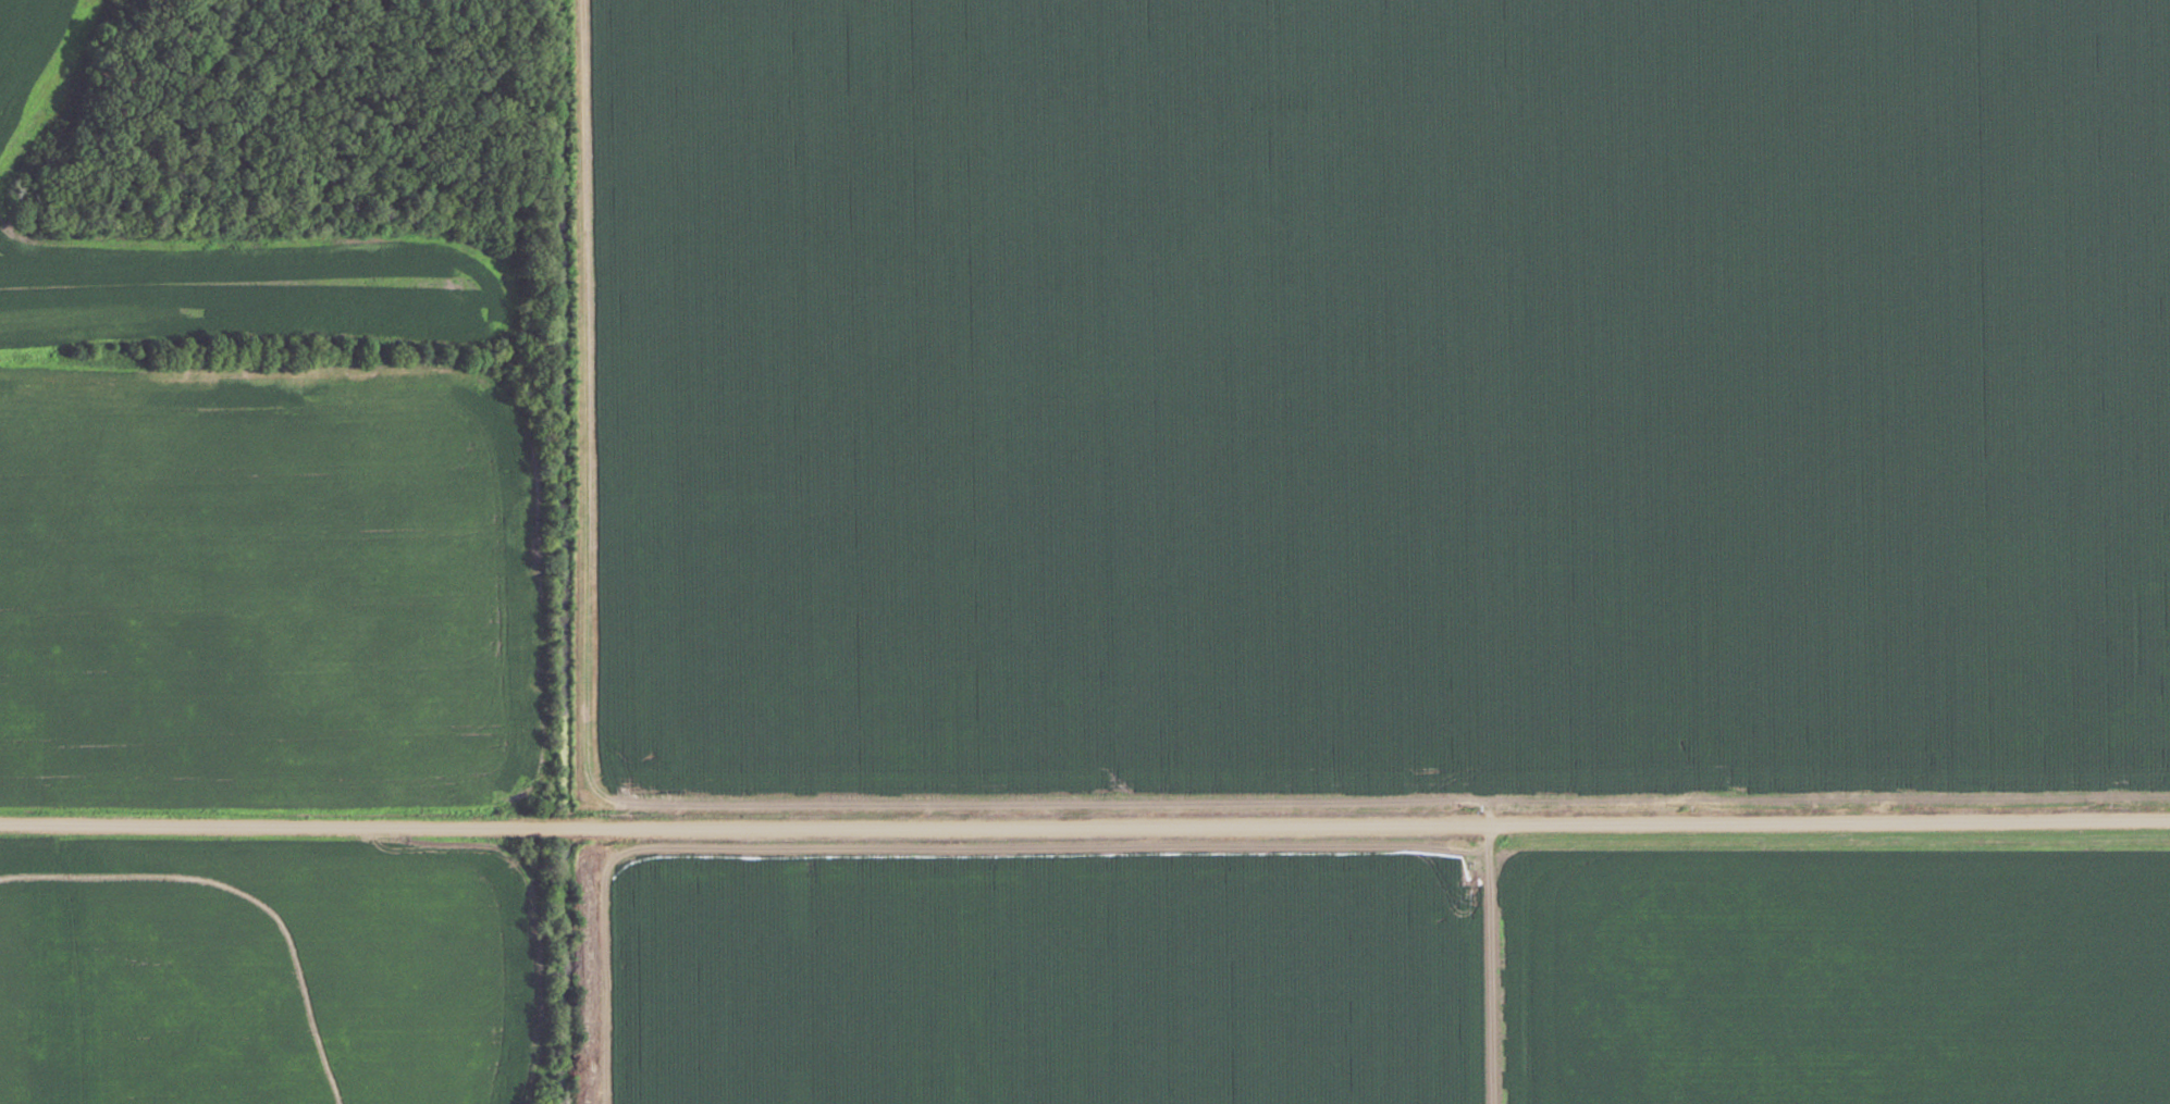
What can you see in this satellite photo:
road: (1085, 827)

